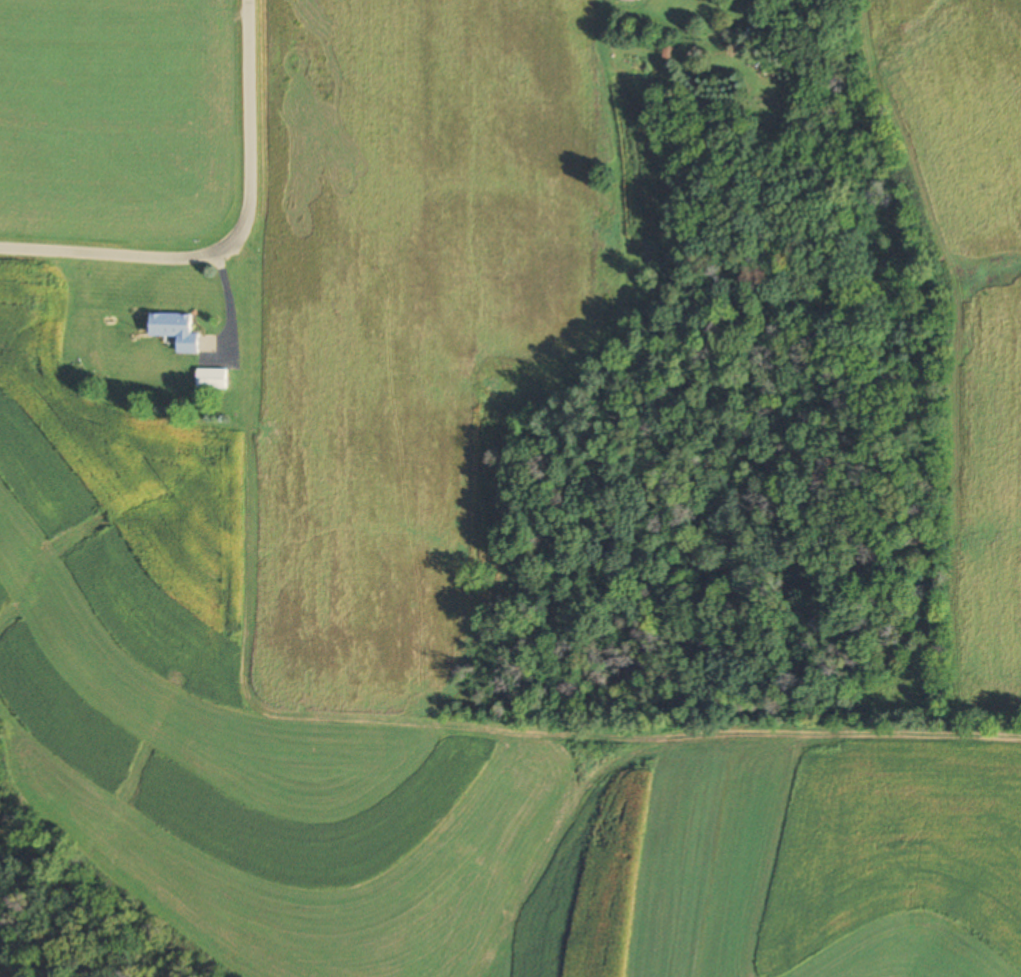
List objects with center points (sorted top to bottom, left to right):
building: (630, 0)
road: (237, 239)
building: (174, 330)
building: (210, 379)

